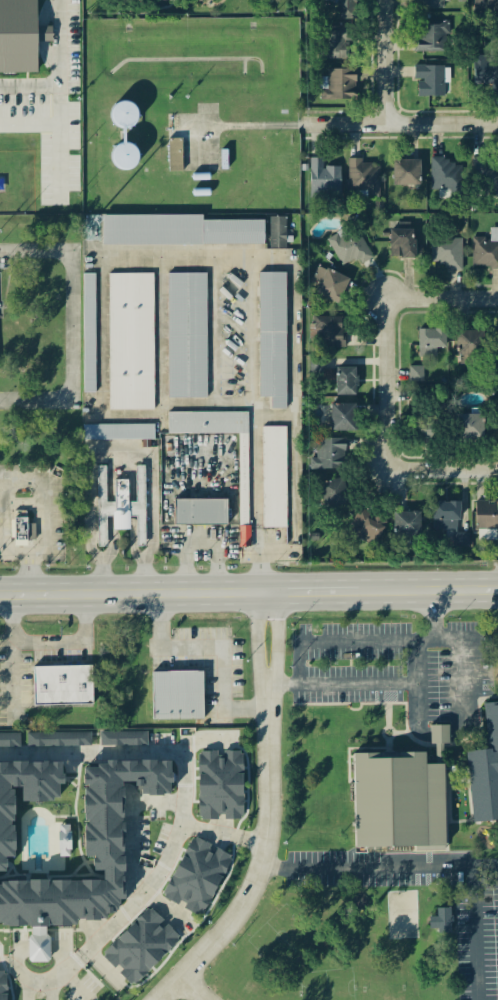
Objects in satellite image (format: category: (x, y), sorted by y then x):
building: (430, 4)
building: (485, 6)
building: (345, 9)
building: (21, 36)
building: (431, 38)
building: (338, 42)
road: (384, 64)
road: (56, 69)
building: (485, 71)
building: (430, 82)
building: (338, 86)
building: (124, 117)
road: (400, 127)
road: (247, 128)
building: (175, 156)
building: (124, 157)
building: (406, 174)
building: (323, 177)
building: (446, 179)
building: (486, 179)
building: (363, 180)
building: (179, 232)
building: (277, 234)
building: (403, 245)
building: (350, 250)
building: (485, 253)
building: (449, 254)
building: (331, 286)
road: (442, 300)
road: (250, 306)
road: (69, 329)
building: (330, 334)
building: (89, 335)
building: (186, 337)
building: (272, 340)
building: (432, 340)
building: (131, 343)
building: (469, 345)
building: (318, 365)
building: (416, 376)
building: (346, 383)
road: (387, 385)
building: (343, 419)
building: (470, 430)
building: (426, 432)
building: (122, 433)
road: (118, 446)
building: (329, 456)
road: (443, 471)
building: (274, 479)
road: (42, 480)
building: (243, 490)
building: (334, 495)
building: (107, 508)
building: (201, 514)
building: (446, 517)
building: (486, 518)
building: (407, 526)
building: (367, 528)
building: (23, 529)
building: (248, 537)
road: (202, 542)
road: (2, 548)
road: (428, 589)
road: (314, 591)
road: (134, 592)
road: (258, 637)
road: (278, 637)
road: (76, 643)
road: (215, 649)
road: (302, 654)
road: (16, 655)
road: (417, 660)
road: (465, 663)
road: (285, 684)
building: (62, 687)
building: (178, 697)
building: (127, 740)
building: (11, 741)
building: (61, 741)
road: (91, 752)
building: (226, 786)
building: (421, 789)
road: (183, 814)
road: (176, 838)
road: (252, 841)
building: (68, 842)
road: (135, 846)
road: (264, 858)
road: (380, 866)
building: (119, 870)
building: (202, 879)
building: (445, 922)
road: (478, 933)
building: (146, 949)
road: (4, 963)
road: (59, 968)
road: (32, 975)
building: (5, 986)
road: (192, 988)

